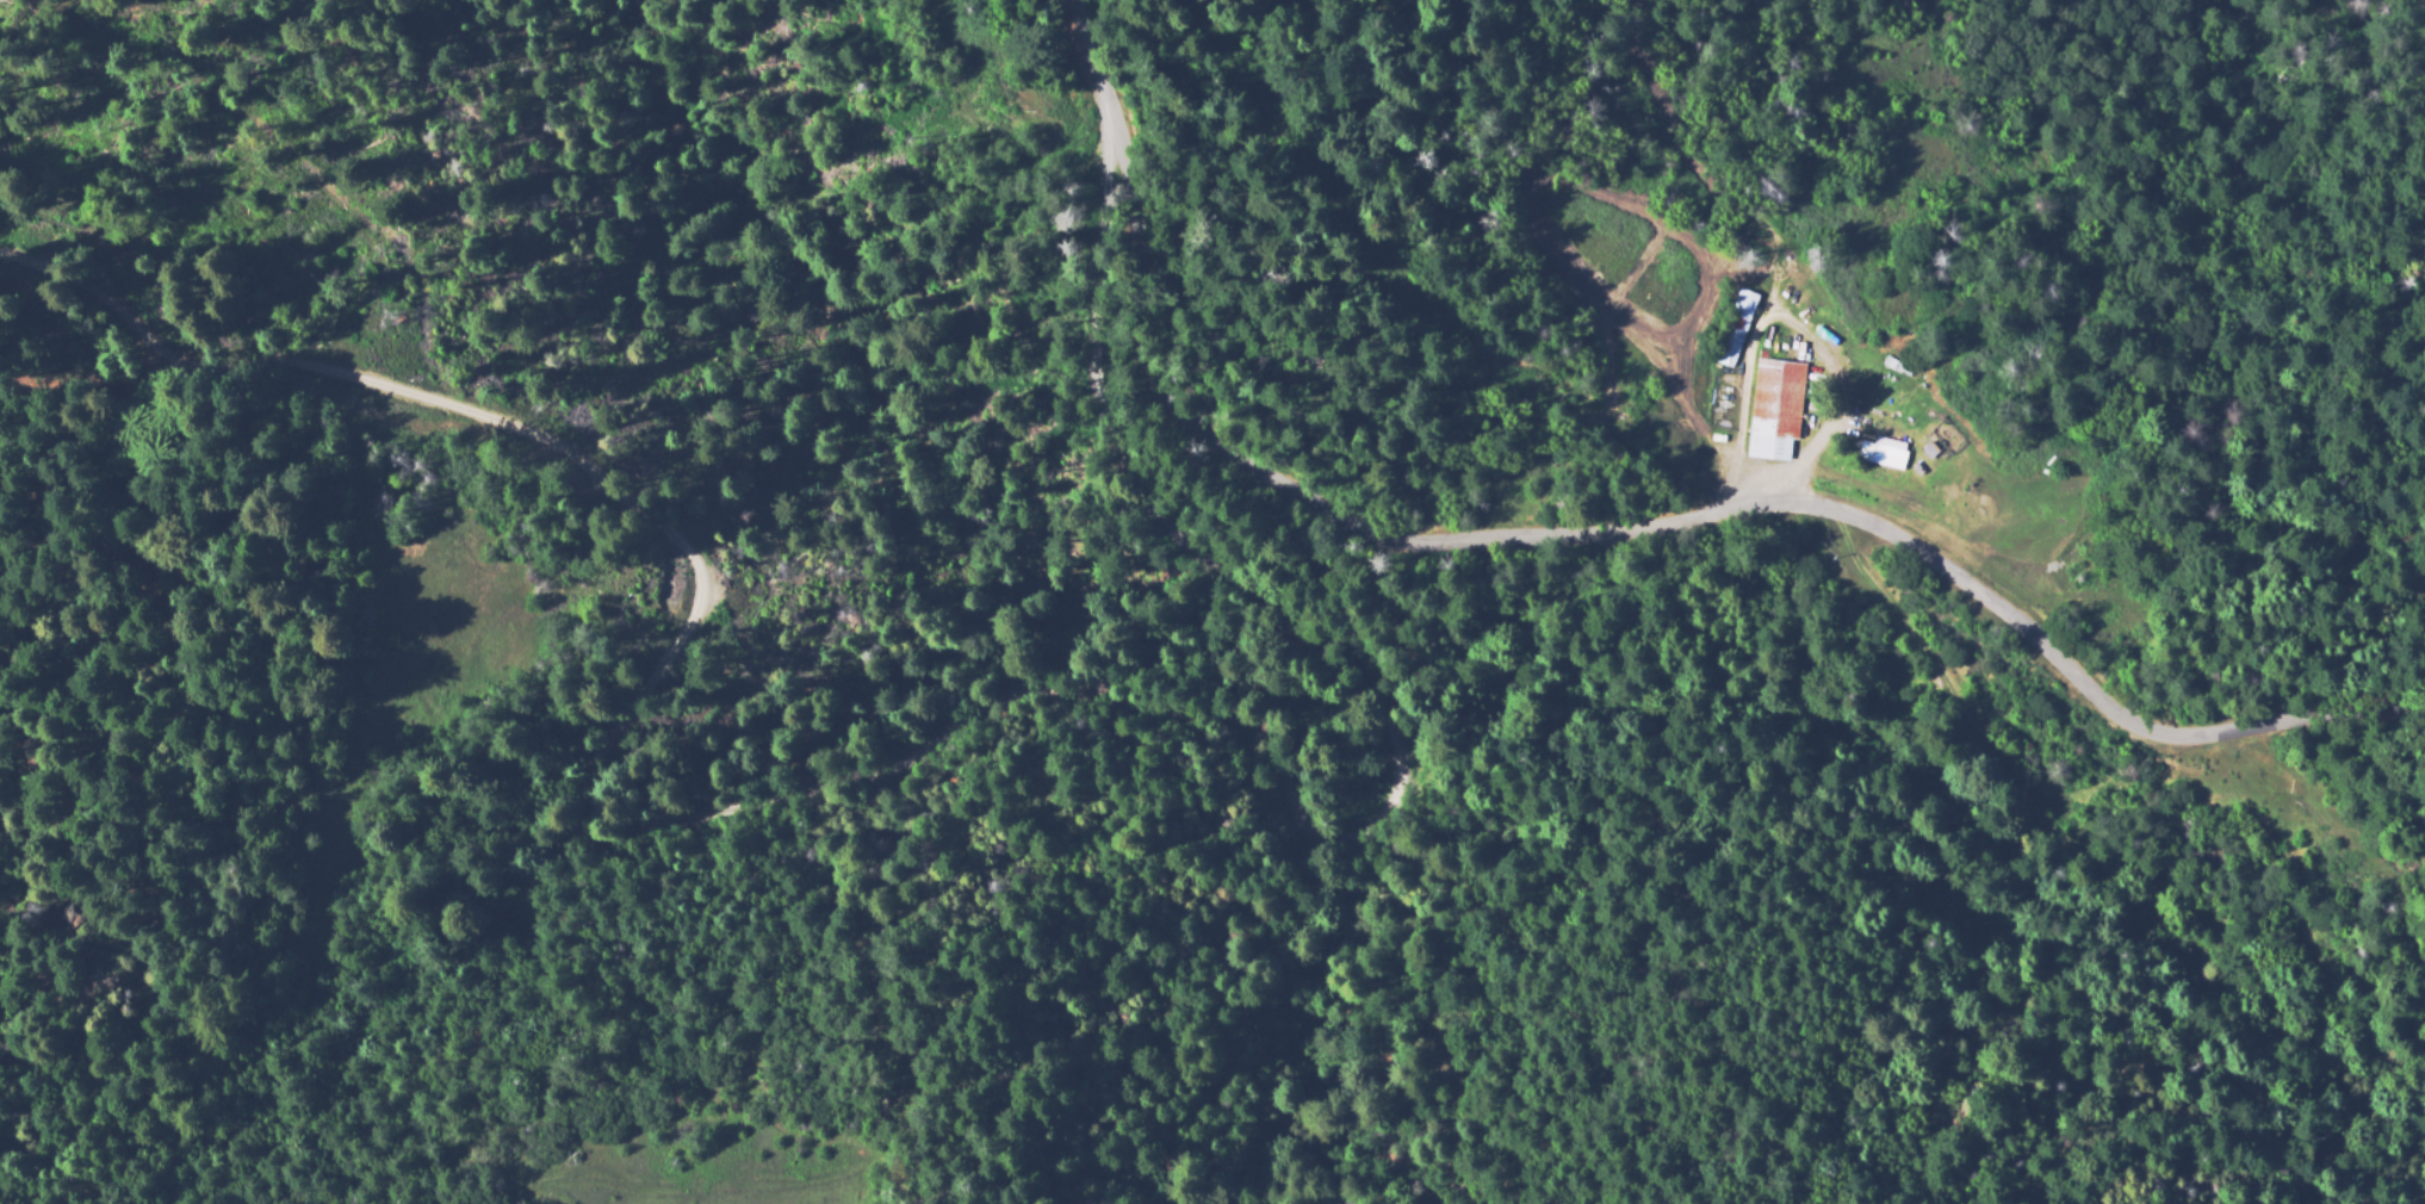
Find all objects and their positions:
building: (1738, 327)
building: (1891, 399)
building: (1779, 406)
building: (1929, 448)
building: (1884, 453)
building: (1919, 470)
road: (1611, 525)
road: (762, 782)

